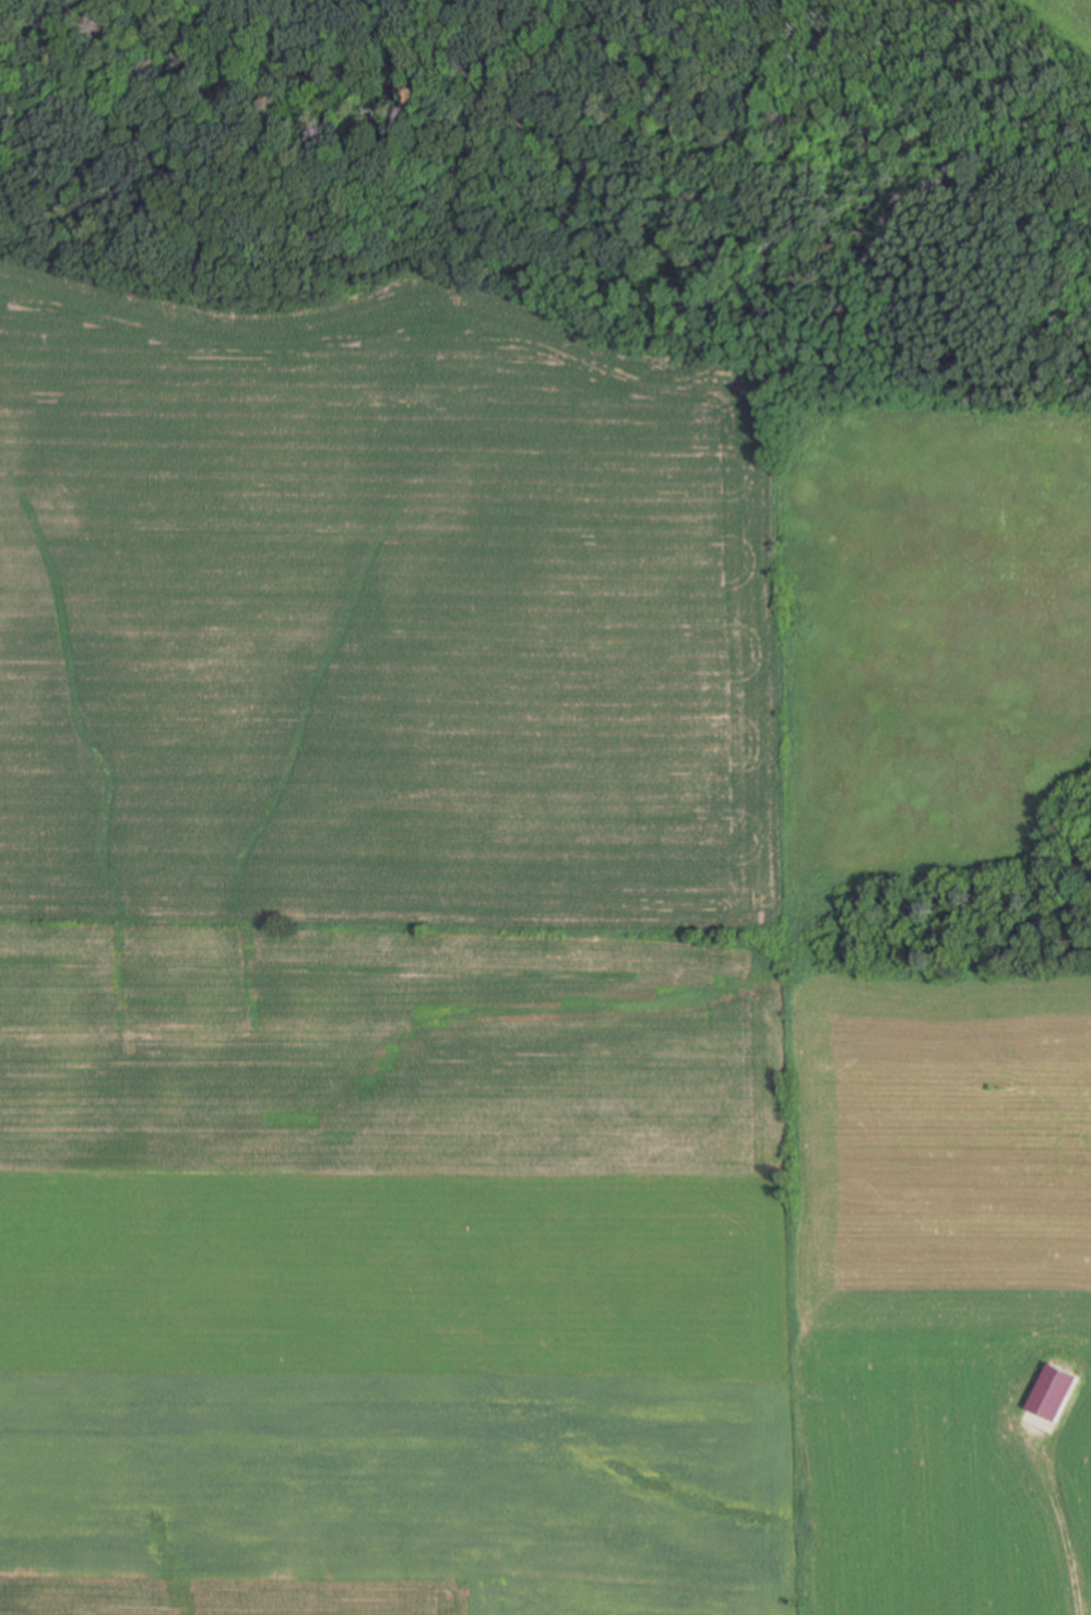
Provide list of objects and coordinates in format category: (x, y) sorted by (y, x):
road: (1023, 27)
building: (1054, 1388)

